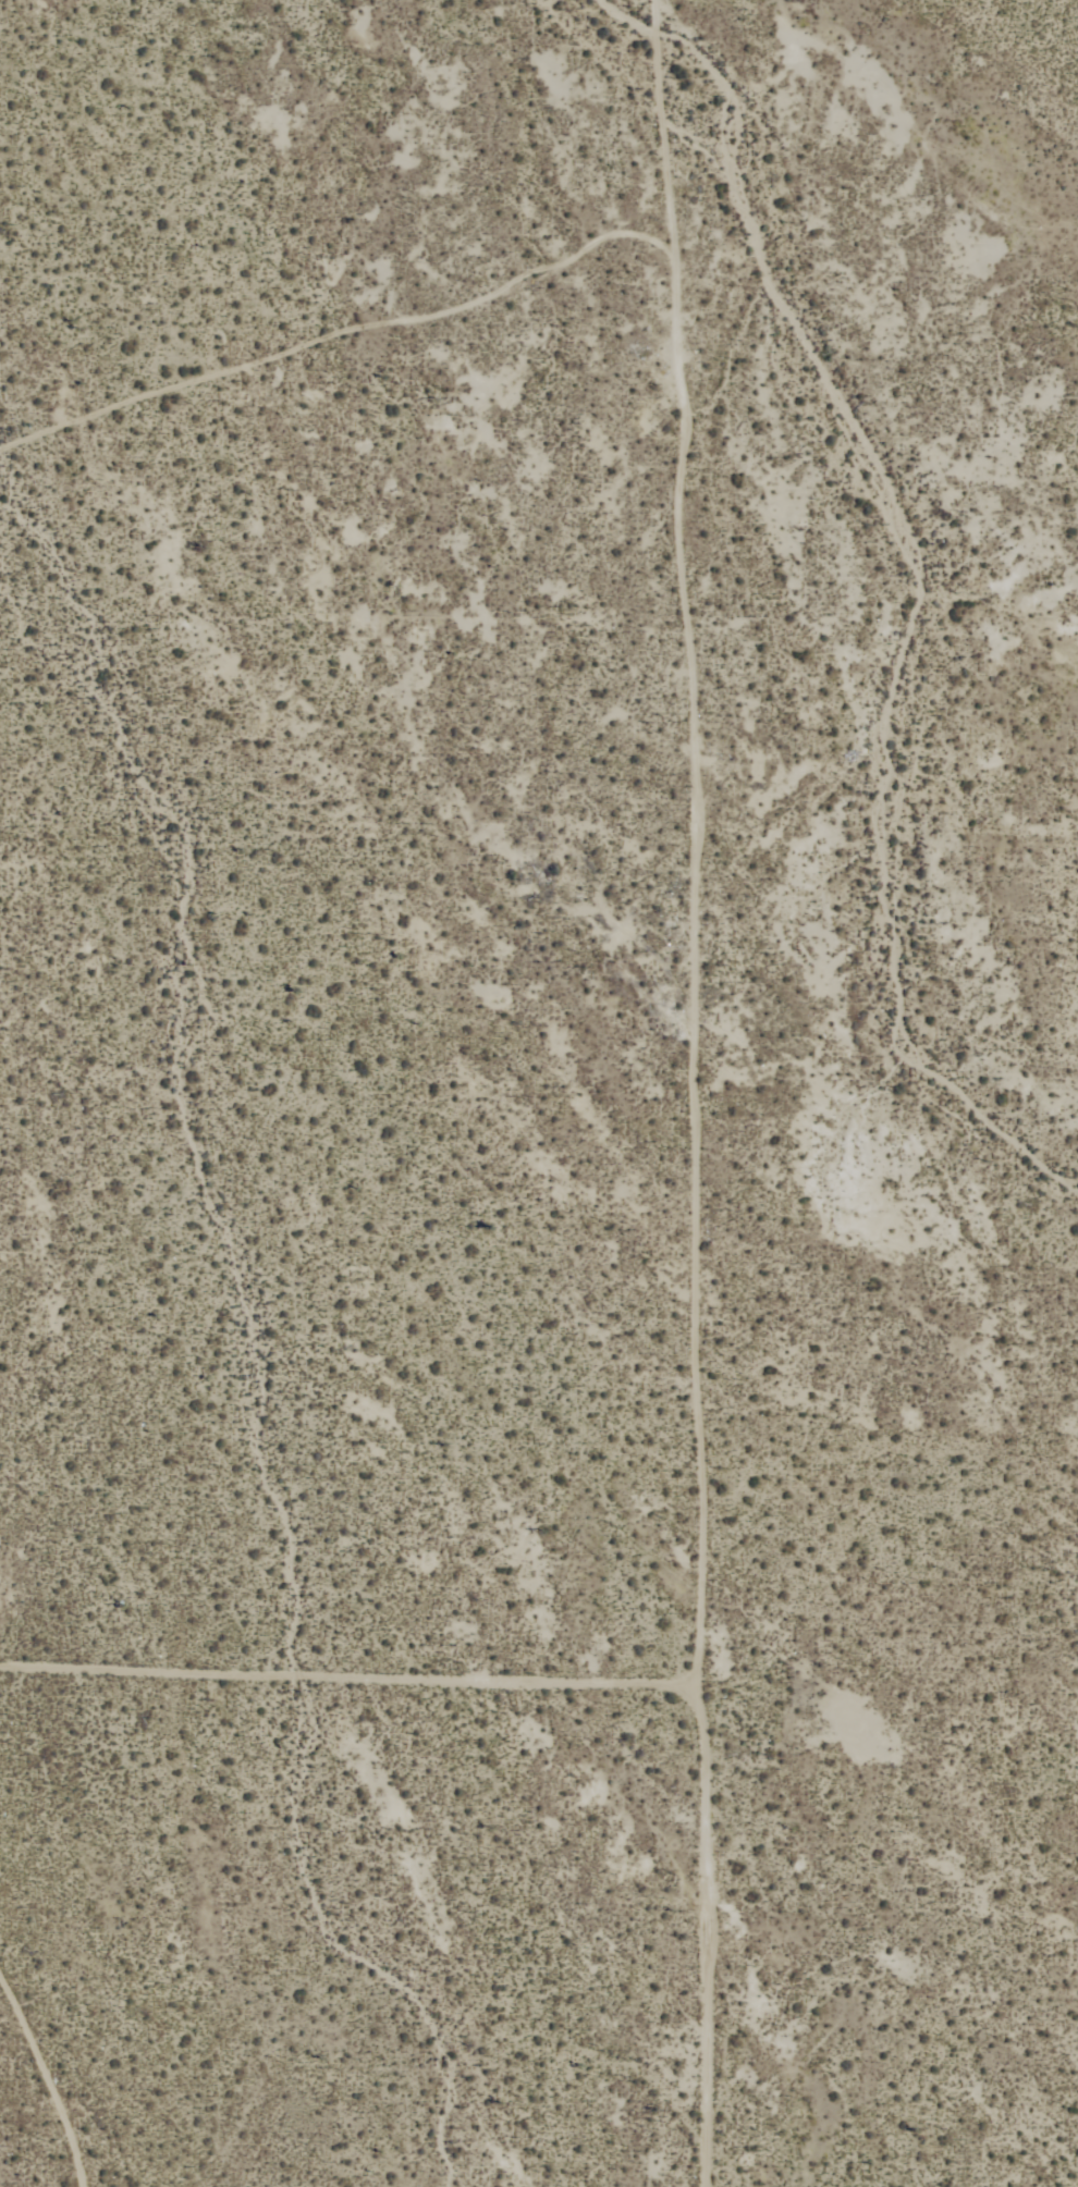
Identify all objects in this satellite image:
road: (725, 1540)

